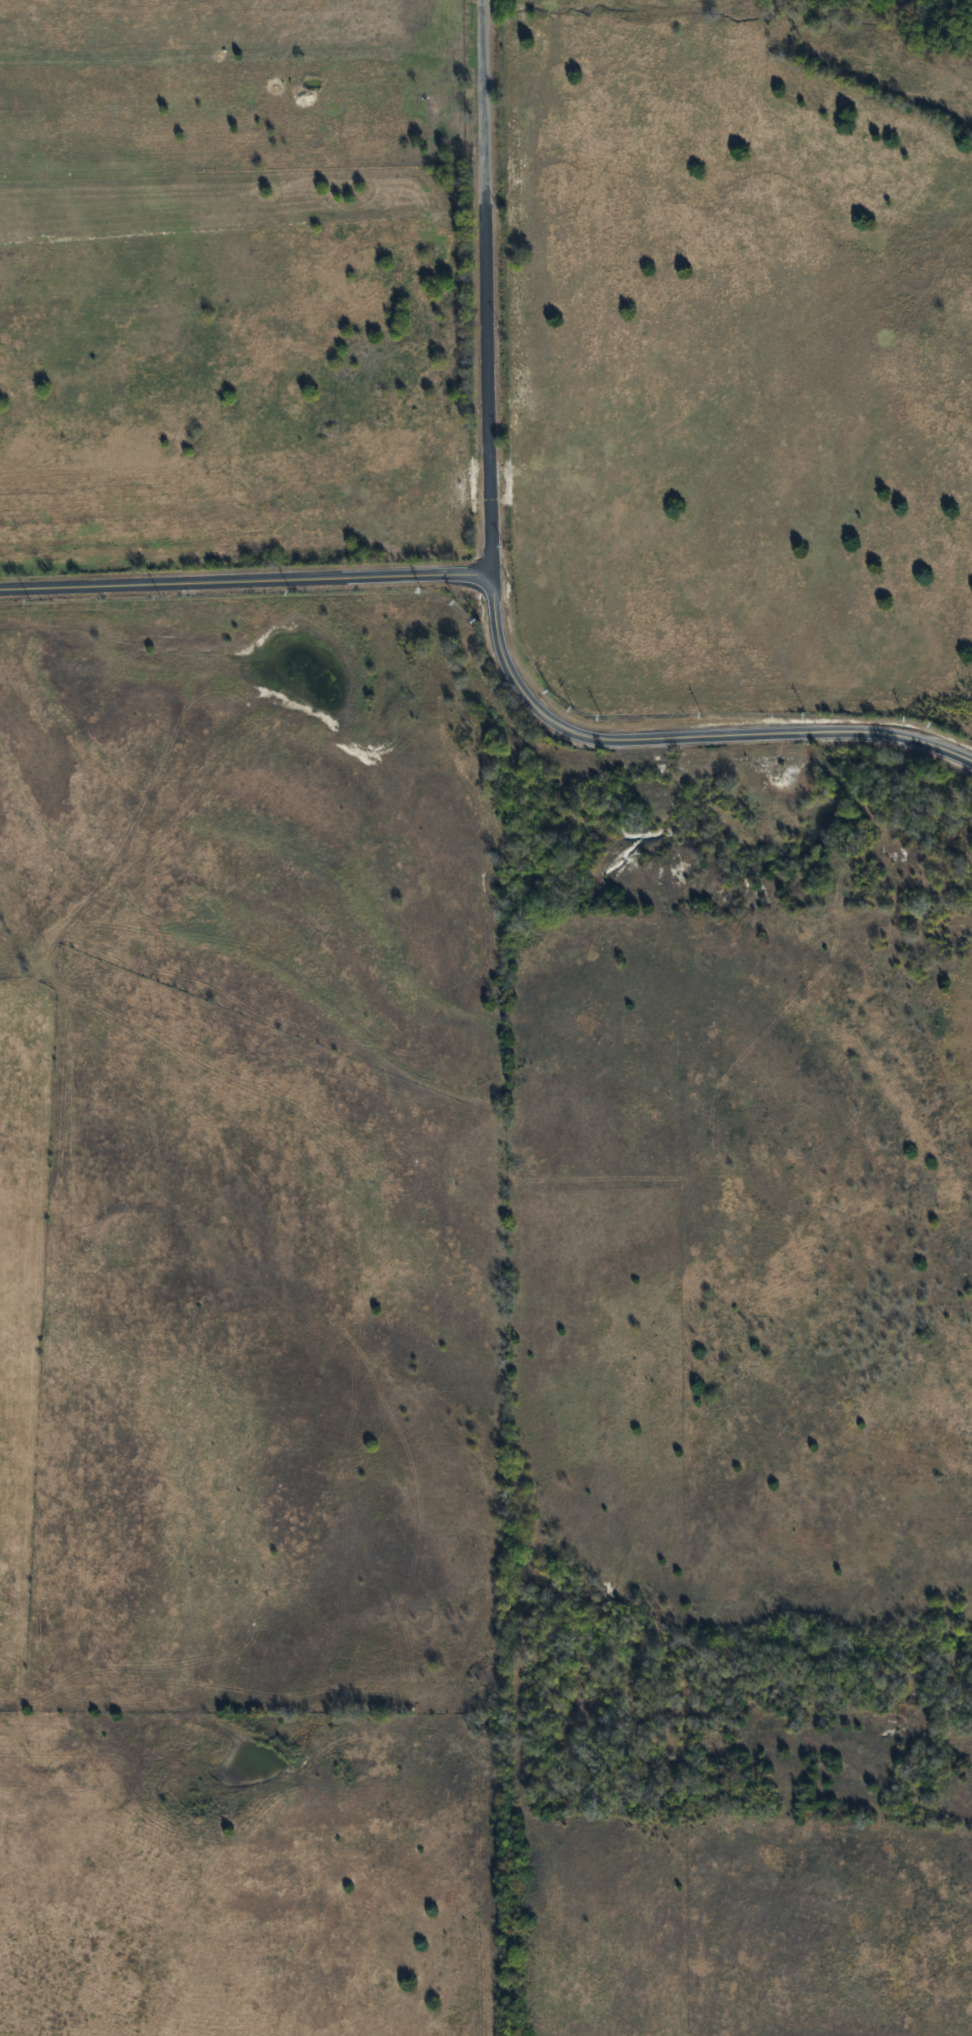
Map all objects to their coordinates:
road: (482, 97)
road: (486, 385)
road: (244, 586)
road: (676, 747)
road: (156, 808)
road: (310, 1139)
road: (154, 1544)

